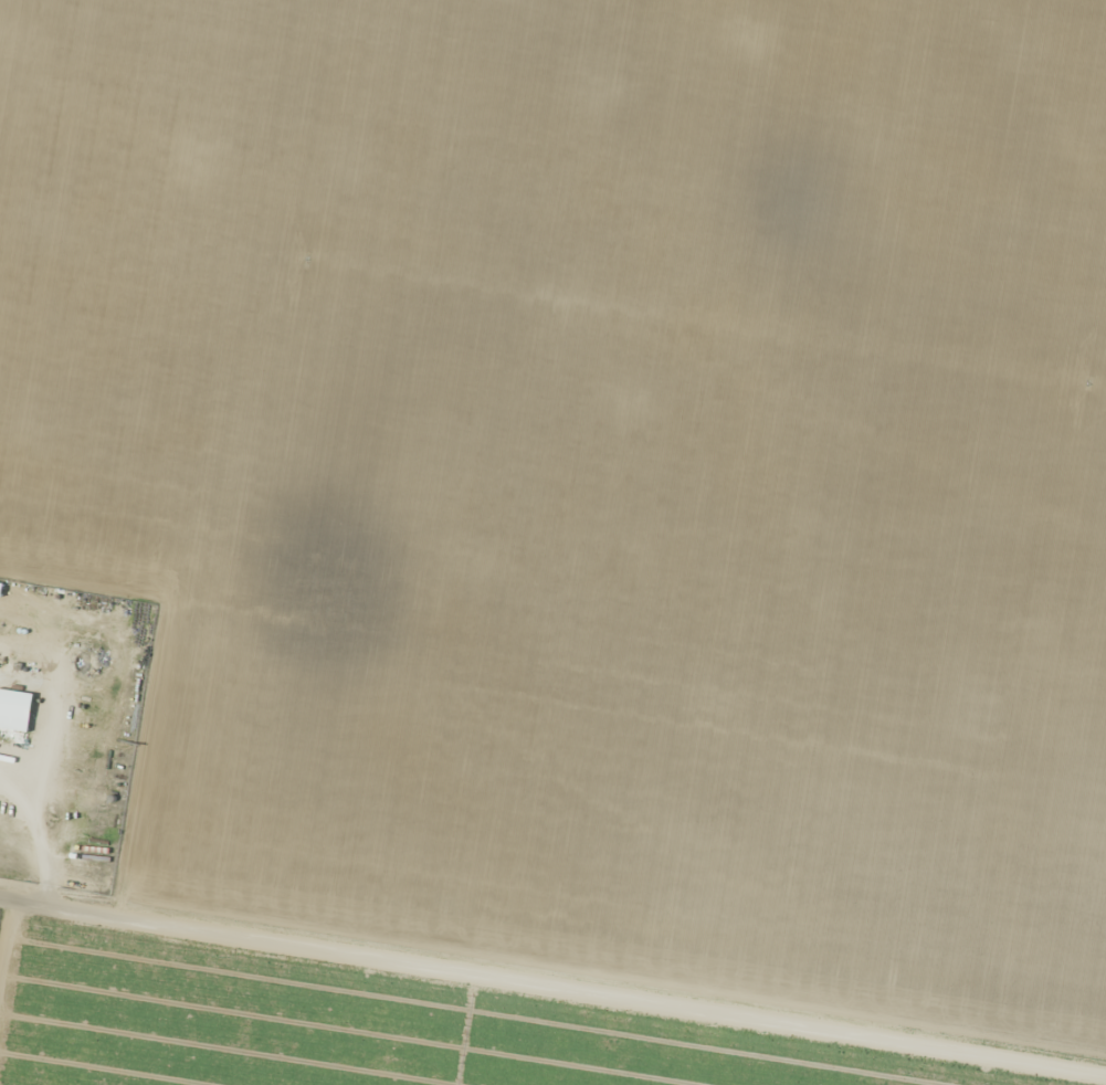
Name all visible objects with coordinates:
road: (552, 987)

